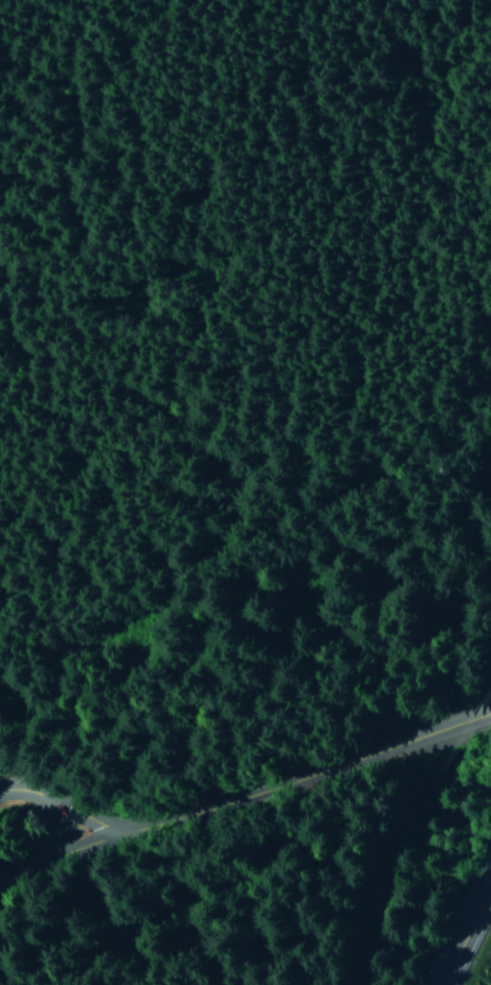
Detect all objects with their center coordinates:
road: (279, 776)
road: (40, 808)
road: (33, 869)
road: (460, 927)

